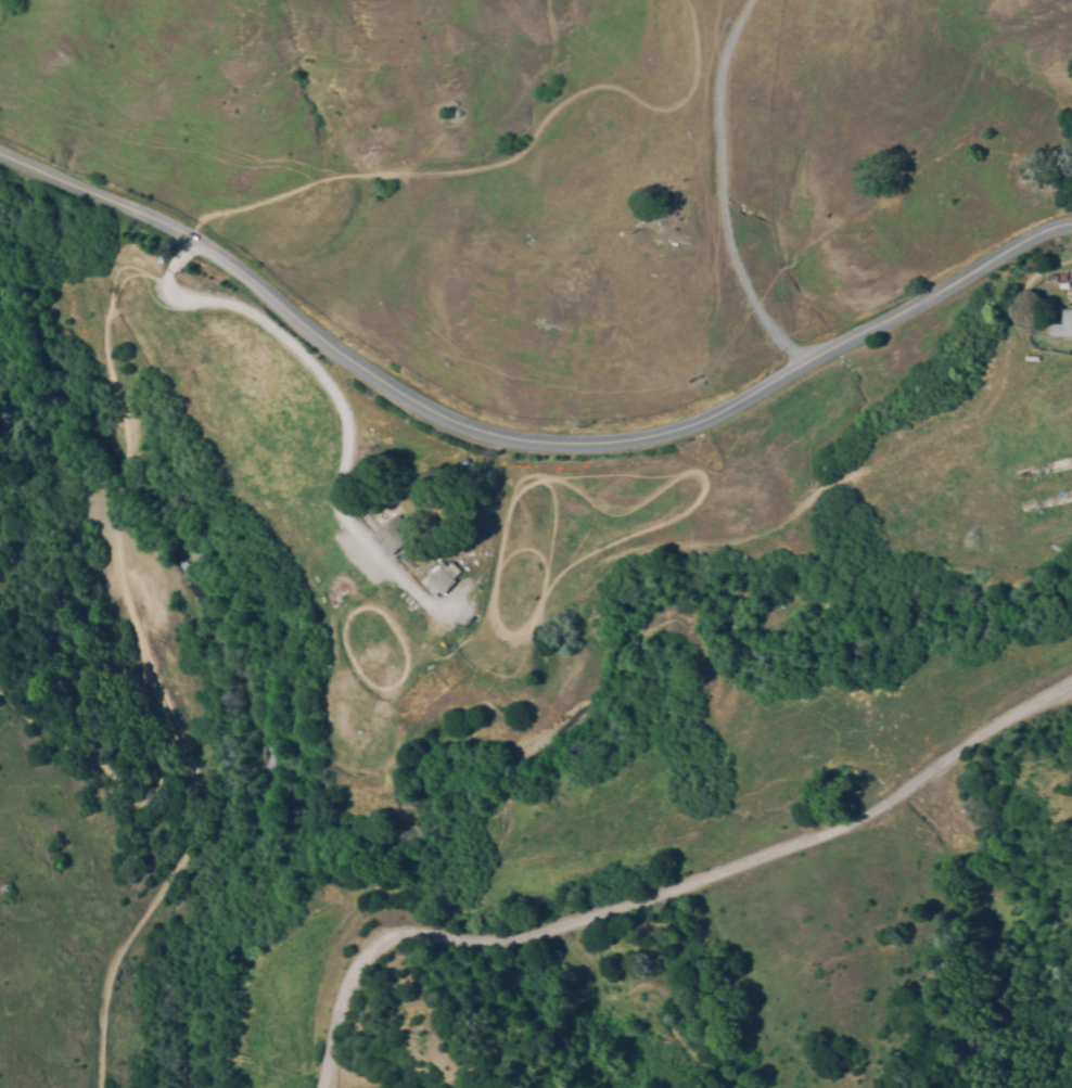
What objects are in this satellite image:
road: (739, 187)
building: (1061, 327)
road: (305, 356)
road: (523, 441)
building: (391, 536)
road: (652, 892)

